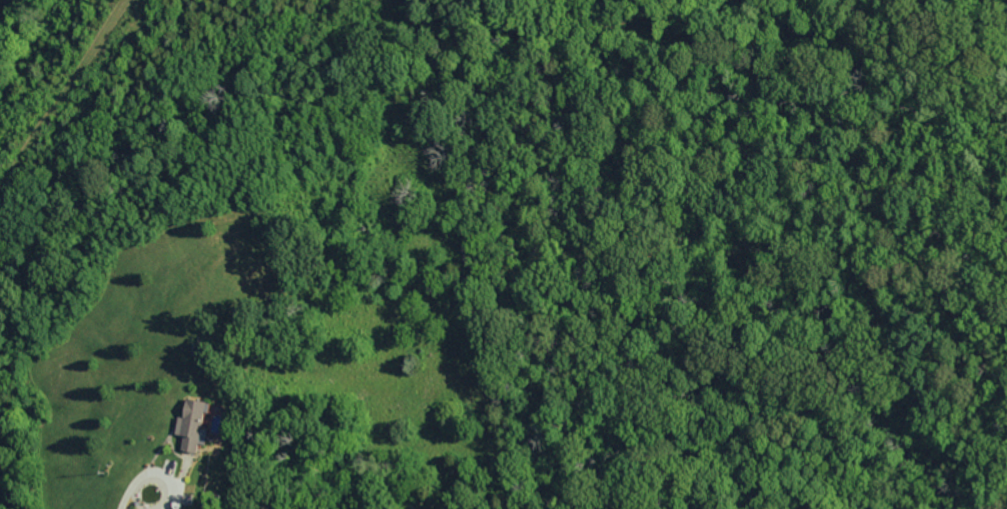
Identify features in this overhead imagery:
building: (201, 425)
road: (144, 500)

